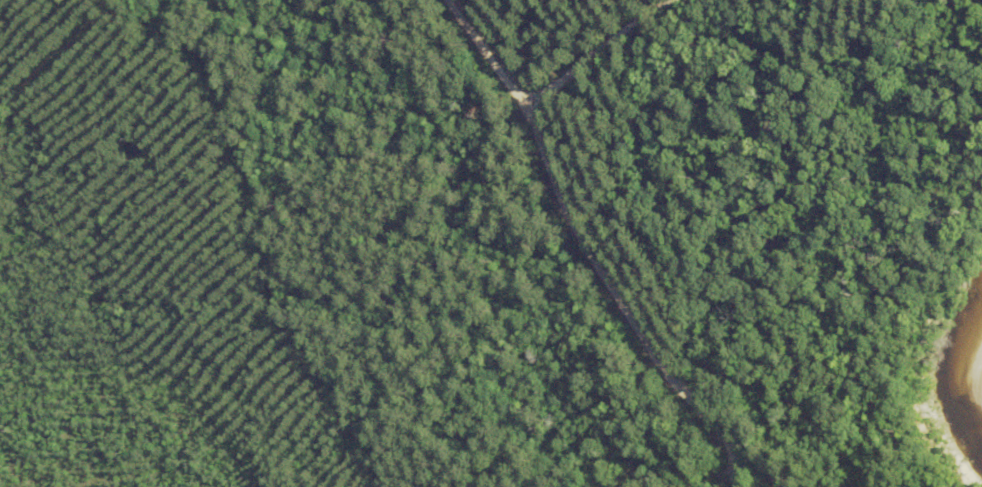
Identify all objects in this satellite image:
road: (610, 50)
road: (605, 241)
river: (959, 374)

